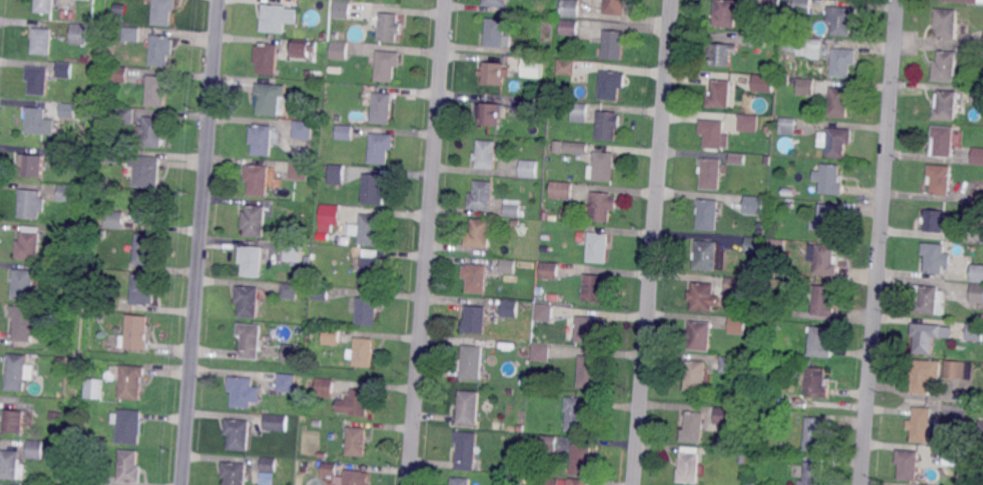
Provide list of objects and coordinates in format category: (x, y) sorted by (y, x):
building: (963, 1)
building: (496, 3)
building: (773, 5)
building: (44, 6)
building: (804, 6)
building: (570, 8)
building: (616, 8)
building: (121, 10)
building: (343, 10)
building: (164, 12)
building: (725, 14)
building: (277, 18)
building: (841, 20)
building: (946, 24)
building: (389, 27)
building: (569, 28)
building: (80, 34)
building: (496, 34)
building: (132, 35)
building: (323, 35)
building: (338, 35)
building: (41, 41)
building: (759, 43)
building: (790, 45)
building: (614, 48)
building: (809, 48)
building: (302, 49)
building: (161, 50)
building: (338, 51)
building: (721, 54)
building: (266, 59)
building: (86, 60)
building: (841, 63)
building: (386, 66)
building: (946, 66)
building: (533, 67)
building: (566, 68)
building: (335, 70)
building: (64, 71)
building: (119, 74)
building: (493, 74)
building: (37, 81)
building: (763, 84)
building: (611, 85)
building: (807, 88)
building: (158, 91)
building: (719, 94)
building: (977, 96)
building: (271, 99)
building: (840, 101)
building: (944, 106)
building: (382, 108)
building: (526, 109)
building: (67, 110)
building: (579, 112)
building: (491, 113)
building: (125, 114)
building: (39, 122)
building: (749, 122)
building: (608, 125)
building: (770, 125)
building: (789, 126)
building: (303, 129)
building: (155, 130)
building: (345, 132)
building: (714, 133)
building: (262, 139)
building: (836, 142)
building: (942, 142)
building: (380, 147)
building: (577, 147)
building: (73, 152)
building: (486, 154)
building: (112, 155)
building: (977, 155)
building: (738, 159)
building: (768, 161)
building: (33, 166)
building: (601, 167)
building: (529, 168)
building: (148, 170)
building: (300, 170)
building: (712, 173)
building: (337, 174)
building: (258, 179)
building: (832, 179)
building: (940, 179)
building: (562, 189)
building: (372, 190)
building: (106, 191)
road: (656, 191)
building: (70, 193)
building: (787, 193)
building: (481, 196)
building: (978, 196)
building: (32, 204)
building: (105, 205)
building: (601, 206)
building: (755, 206)
building: (789, 206)
building: (512, 208)
building: (150, 209)
building: (570, 214)
building: (709, 214)
building: (330, 215)
building: (545, 217)
building: (115, 219)
building: (827, 219)
building: (255, 220)
building: (936, 220)
building: (515, 223)
building: (369, 231)
building: (72, 234)
building: (478, 234)
building: (762, 234)
building: (982, 236)
building: (546, 237)
building: (324, 239)
road: (201, 242)
road: (427, 242)
road: (880, 242)
building: (29, 244)
building: (72, 244)
building: (755, 245)
building: (598, 247)
building: (777, 249)
building: (146, 251)
building: (294, 251)
building: (705, 256)
building: (935, 258)
building: (824, 260)
building: (251, 261)
building: (111, 263)
building: (509, 266)
building: (529, 267)
building: (371, 270)
building: (550, 270)
building: (757, 273)
building: (977, 273)
building: (477, 277)
building: (24, 282)
building: (593, 288)
building: (733, 288)
building: (144, 289)
building: (290, 290)
building: (322, 291)
building: (703, 296)
building: (977, 296)
building: (822, 300)
building: (928, 300)
building: (248, 302)
building: (100, 303)
building: (511, 308)
building: (66, 311)
building: (368, 311)
building: (540, 313)
building: (101, 317)
building: (980, 318)
building: (475, 319)
building: (27, 323)
building: (739, 325)
building: (301, 330)
building: (588, 331)
building: (975, 331)
building: (136, 334)
building: (331, 336)
building: (699, 336)
building: (929, 336)
building: (61, 338)
building: (251, 339)
building: (820, 343)
building: (542, 351)
building: (364, 353)
building: (293, 354)
building: (972, 354)
building: (61, 361)
building: (471, 362)
building: (732, 365)
building: (958, 370)
building: (18, 372)
building: (589, 372)
building: (696, 376)
building: (922, 377)
building: (287, 382)
building: (523, 382)
building: (132, 383)
building: (817, 383)
building: (325, 386)
building: (93, 387)
building: (242, 391)
building: (356, 403)
building: (468, 407)
building: (723, 415)
building: (57, 416)
building: (578, 416)
building: (15, 420)
building: (276, 422)
building: (922, 424)
building: (129, 425)
building: (695, 427)
building: (520, 428)
building: (981, 428)
building: (239, 433)
road: (640, 433)
building: (814, 436)
building: (357, 442)
building: (965, 443)
building: (548, 446)
building: (38, 449)
building: (466, 451)
building: (954, 456)
building: (581, 460)
building: (10, 464)
building: (908, 464)
building: (269, 465)
building: (131, 466)
building: (690, 466)
building: (329, 469)
building: (236, 473)
building: (811, 473)
building: (98, 477)
building: (355, 477)
building: (533, 479)
building: (462, 481)
building: (552, 481)
building: (581, 482)
building: (31, 484)

